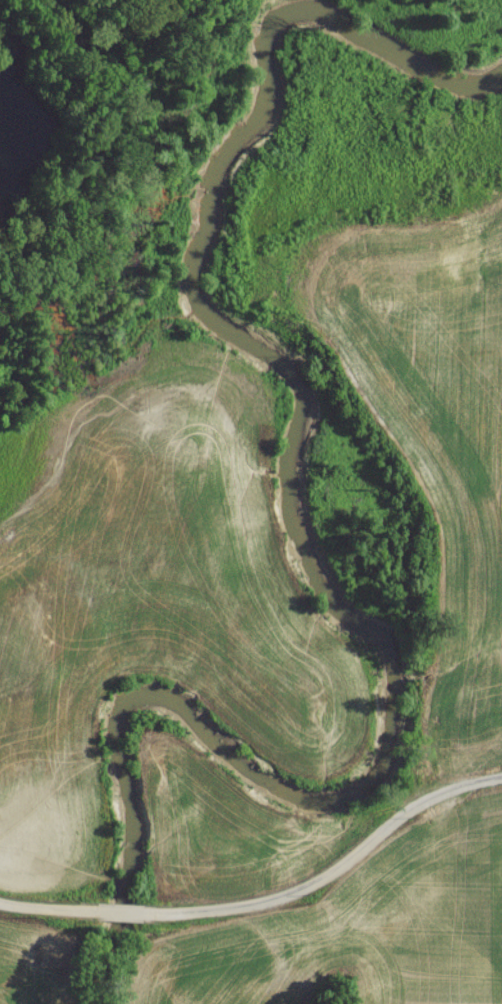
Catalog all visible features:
road: (266, 902)

